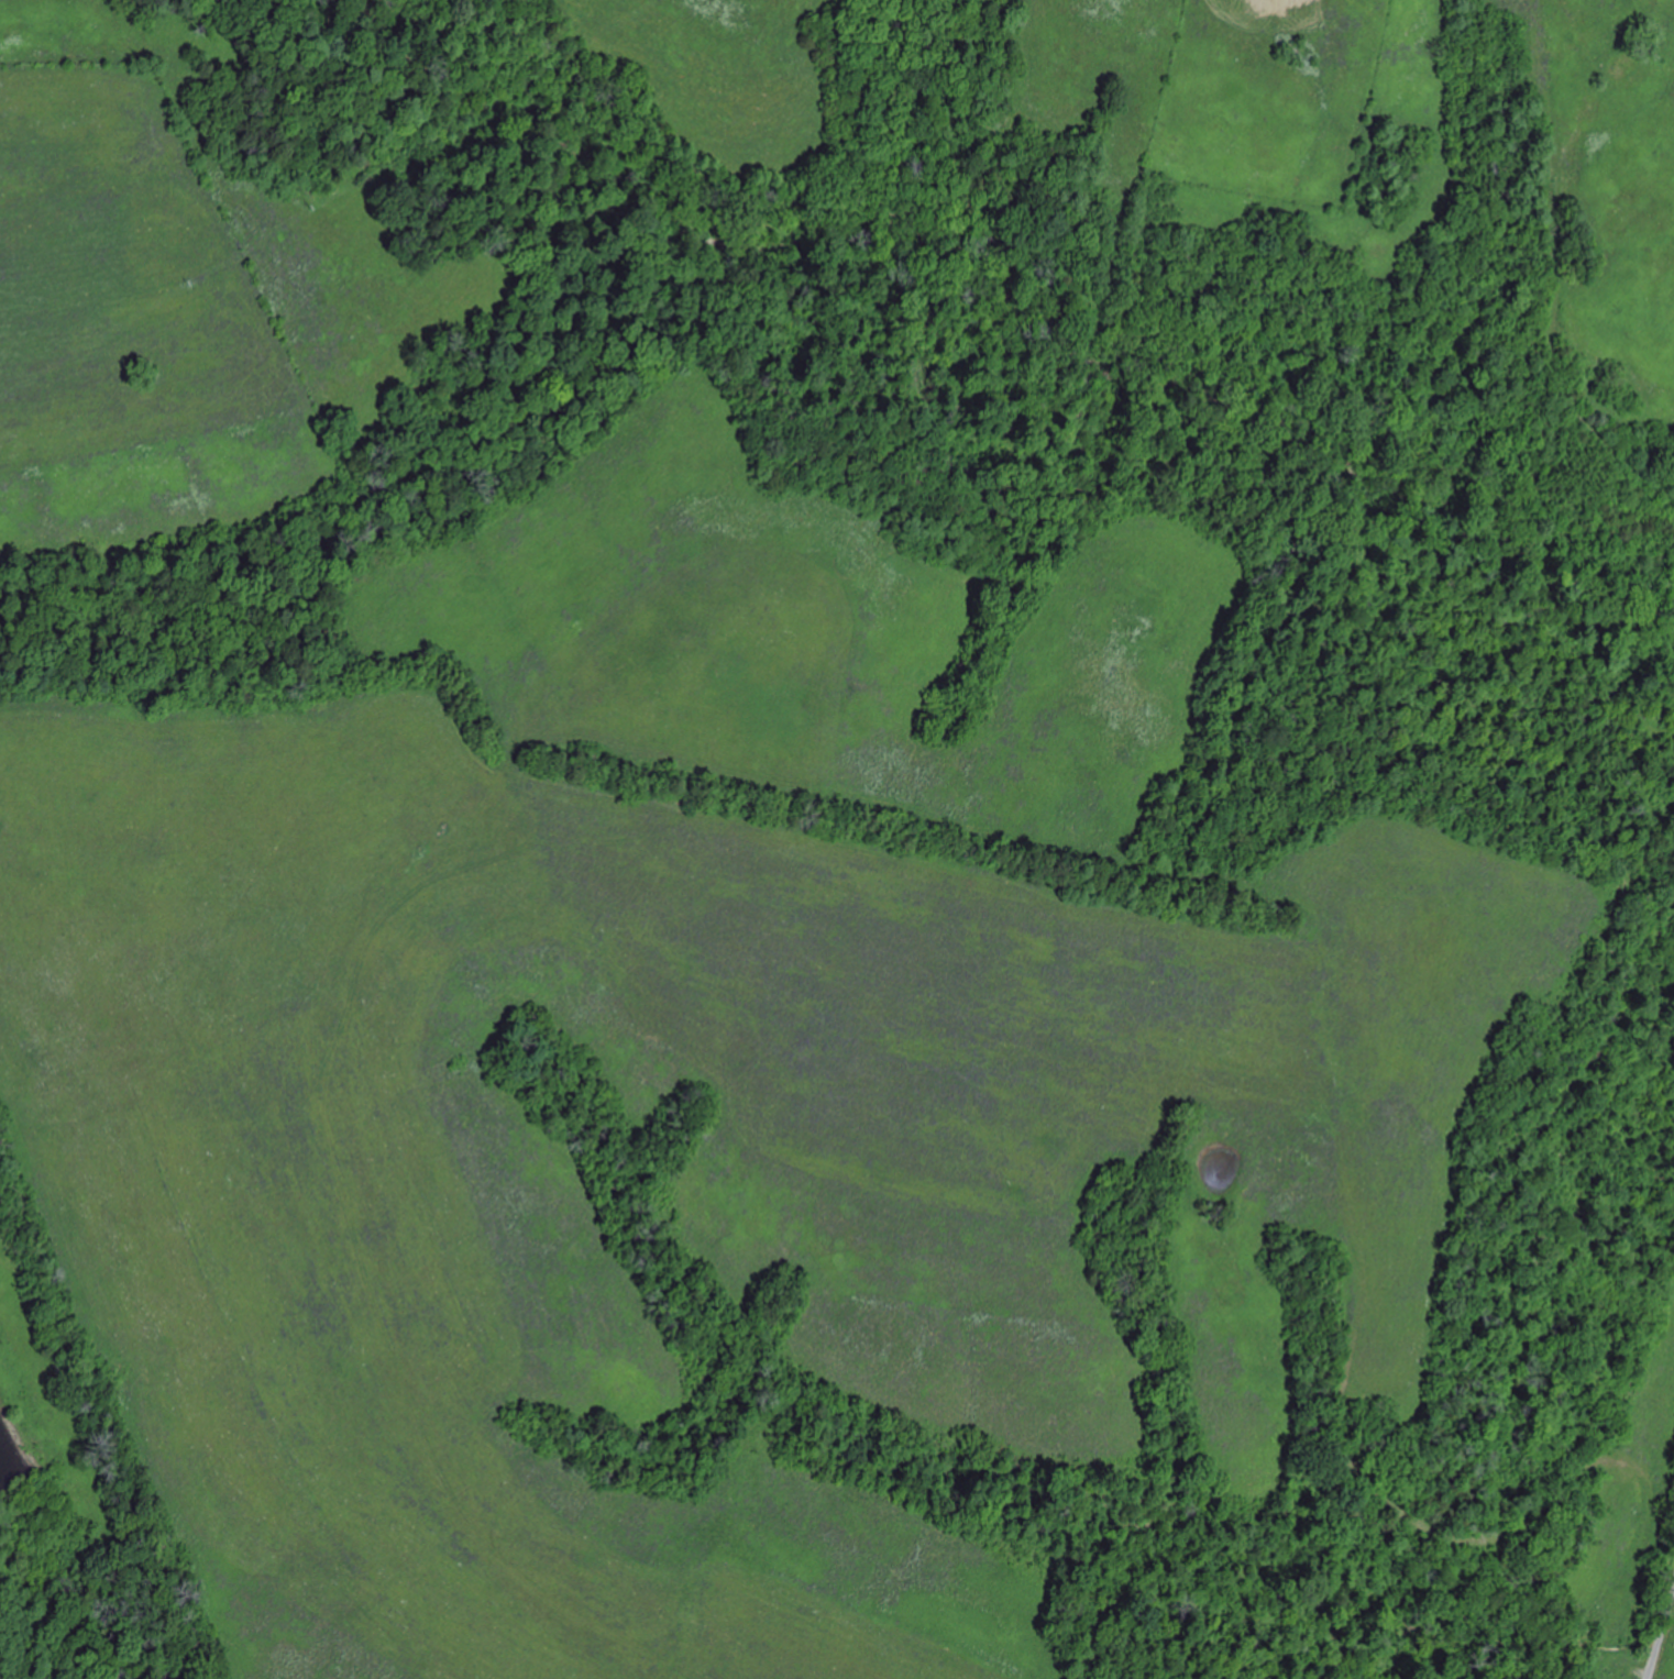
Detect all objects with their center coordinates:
road: (1530, 246)
road: (1661, 1631)

